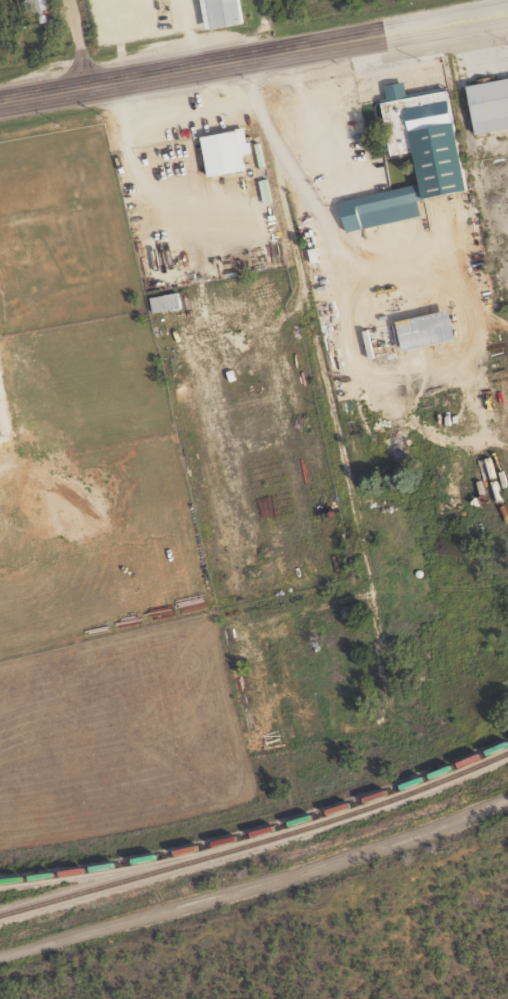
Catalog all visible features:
building: (34, 5)
building: (227, 12)
road: (81, 43)
road: (254, 56)
building: (229, 151)
building: (443, 155)
building: (167, 303)
road: (303, 313)
building: (433, 330)
railway: (259, 832)
railway: (257, 844)
road: (256, 884)

